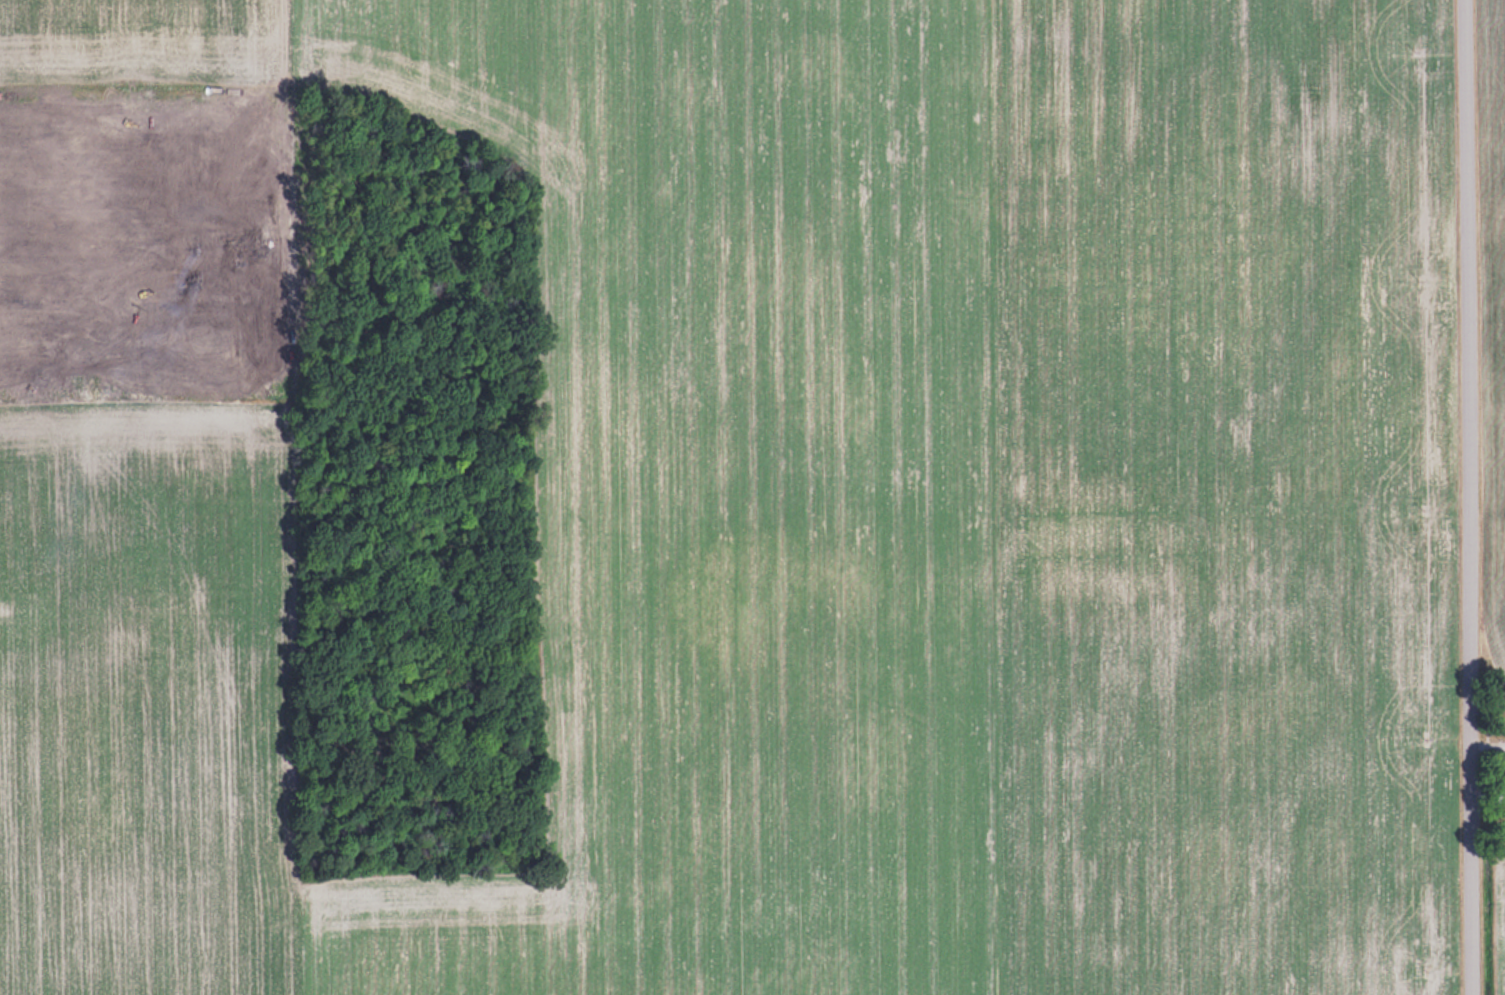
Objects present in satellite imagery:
road: (1469, 497)

